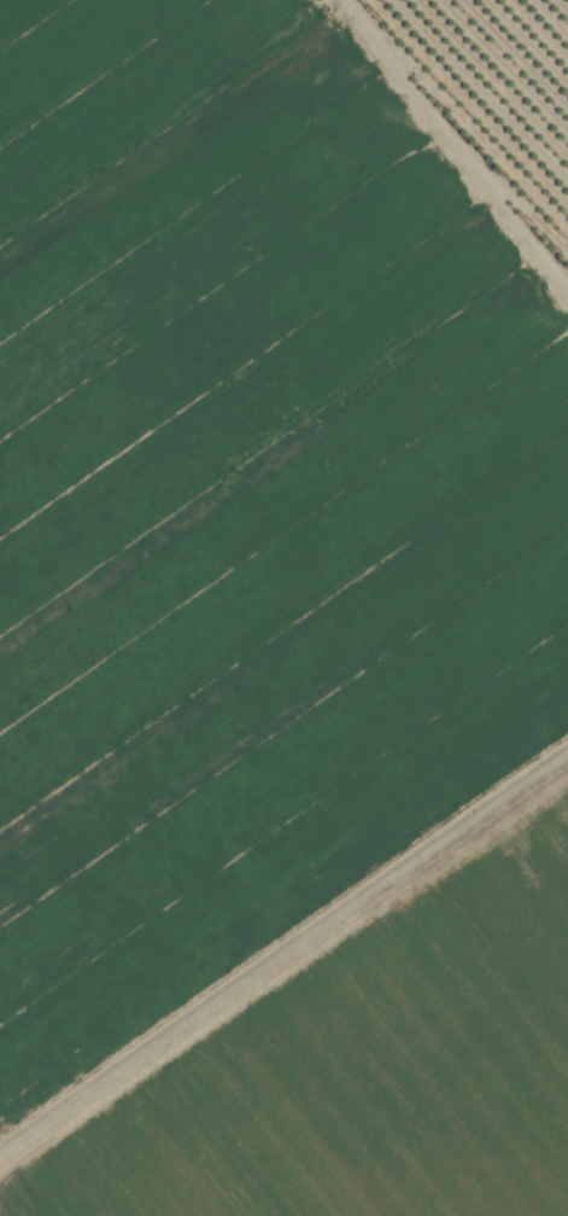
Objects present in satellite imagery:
road: (444, 161)
crop: (283, 607)
road: (283, 956)

